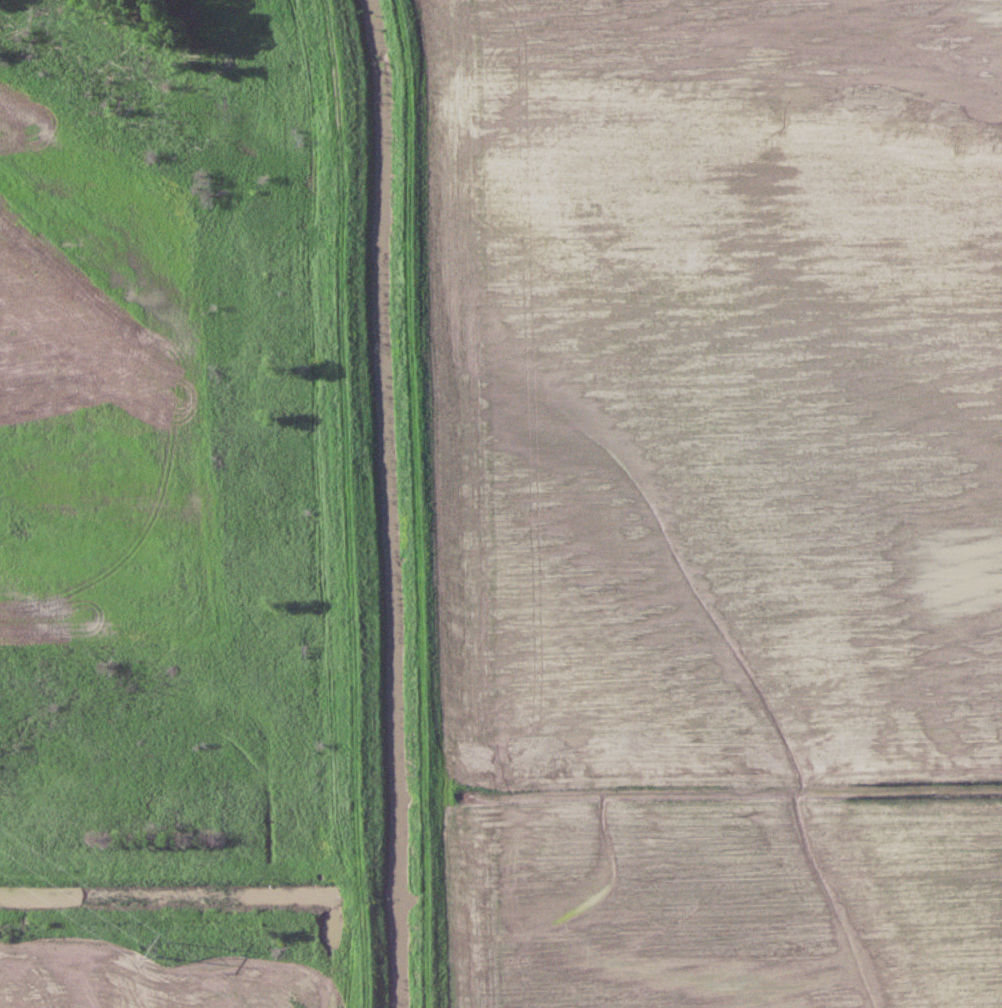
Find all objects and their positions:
road: (345, 503)
road: (177, 872)
power tower: (166, 945)

